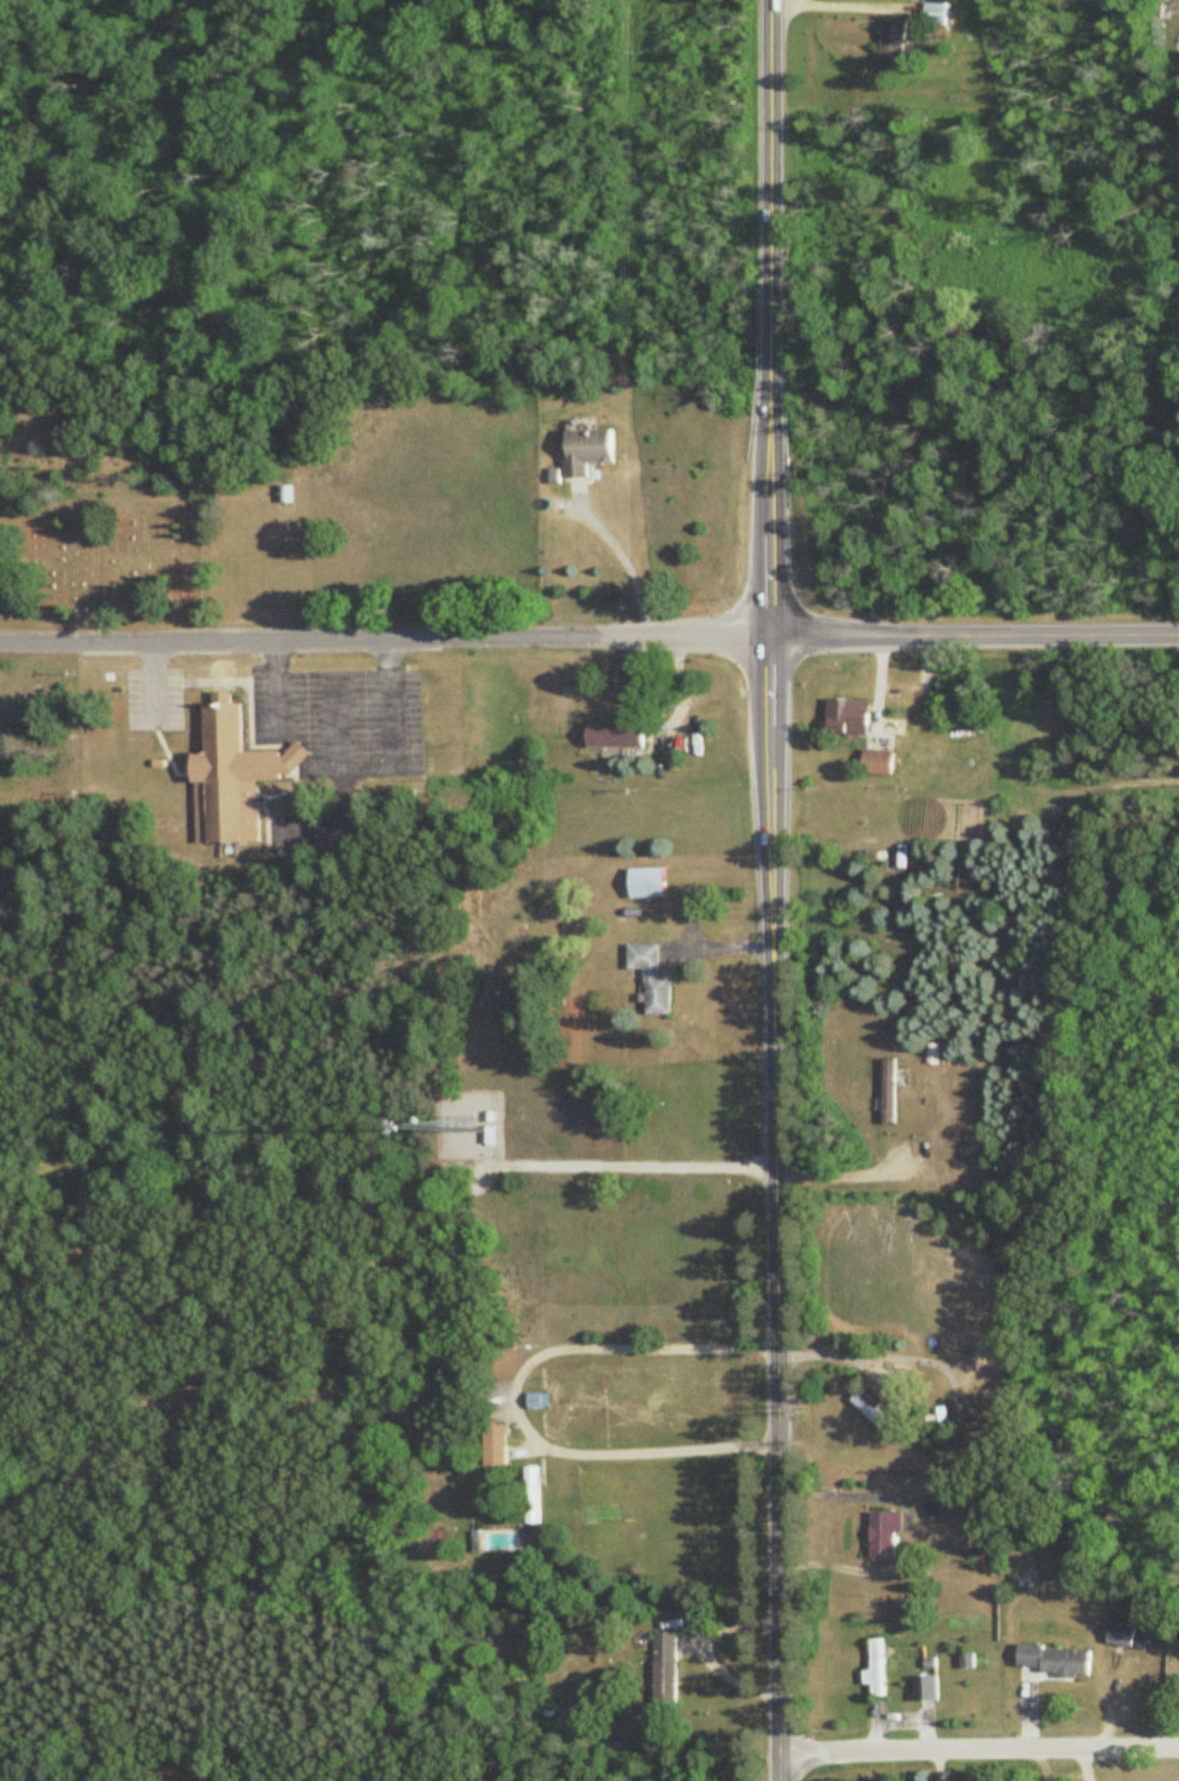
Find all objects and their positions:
building: (936, 14)
building: (893, 42)
building: (587, 452)
building: (285, 495)
road: (617, 554)
road: (588, 638)
building: (847, 716)
building: (617, 735)
building: (877, 762)
building: (232, 777)
building: (647, 884)
road: (770, 891)
building: (651, 980)
building: (889, 1091)
building: (490, 1137)
road: (834, 1179)
road: (871, 1356)
road: (515, 1398)
building: (964, 1413)
building: (494, 1446)
road: (843, 1493)
building: (531, 1497)
building: (883, 1536)
building: (1124, 1629)
building: (1057, 1662)
building: (876, 1669)
building: (664, 1670)
building: (925, 1688)
road: (978, 1749)

